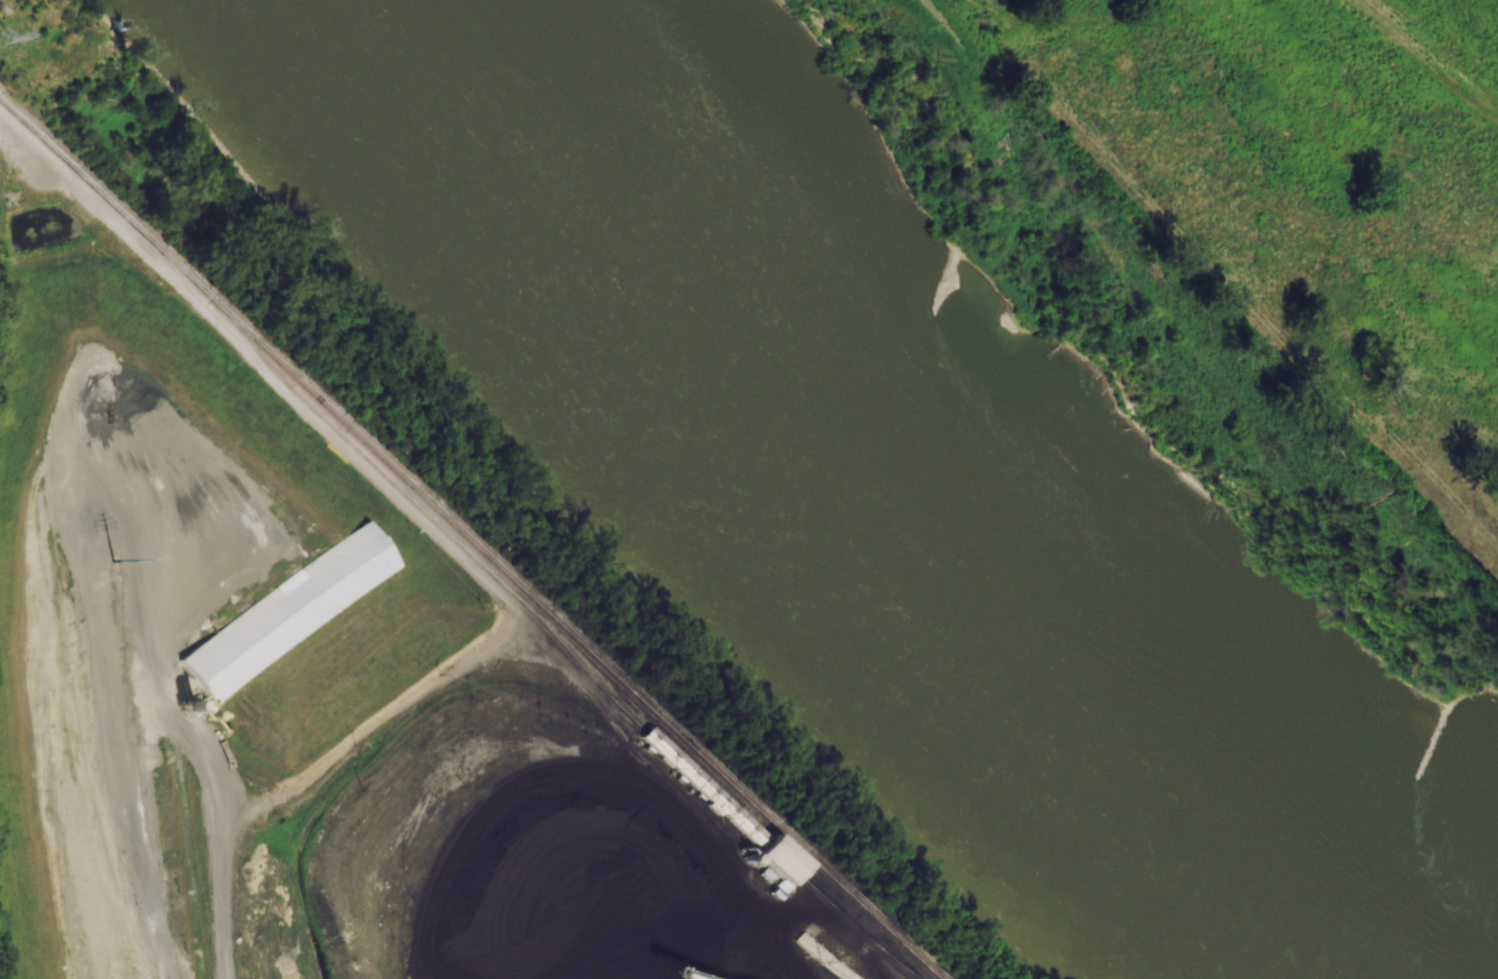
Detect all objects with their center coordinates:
railway: (112, 209)
railway: (387, 464)
river: (903, 489)
power tower: (111, 562)
railway: (711, 791)
building: (732, 814)
railway: (904, 970)

